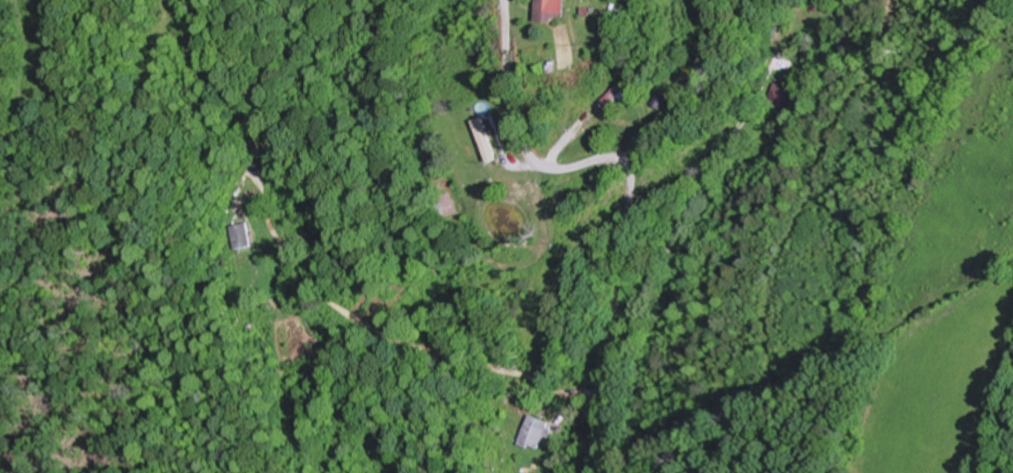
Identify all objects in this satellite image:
building: (551, 10)
building: (779, 93)
building: (619, 95)
building: (663, 100)
building: (484, 139)
road: (628, 187)
building: (447, 205)
road: (493, 234)
building: (243, 236)
building: (535, 433)

